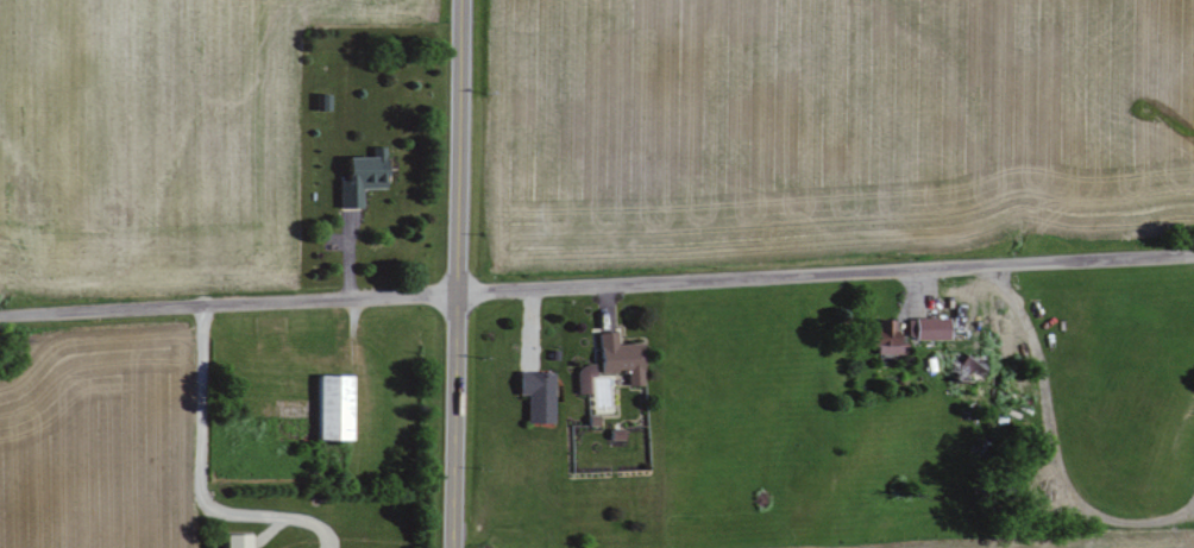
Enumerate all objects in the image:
building: (363, 177)
road: (458, 273)
road: (597, 285)
building: (930, 329)
building: (886, 339)
building: (621, 358)
building: (972, 369)
building: (538, 396)
building: (334, 408)
road: (202, 477)
building: (238, 541)

